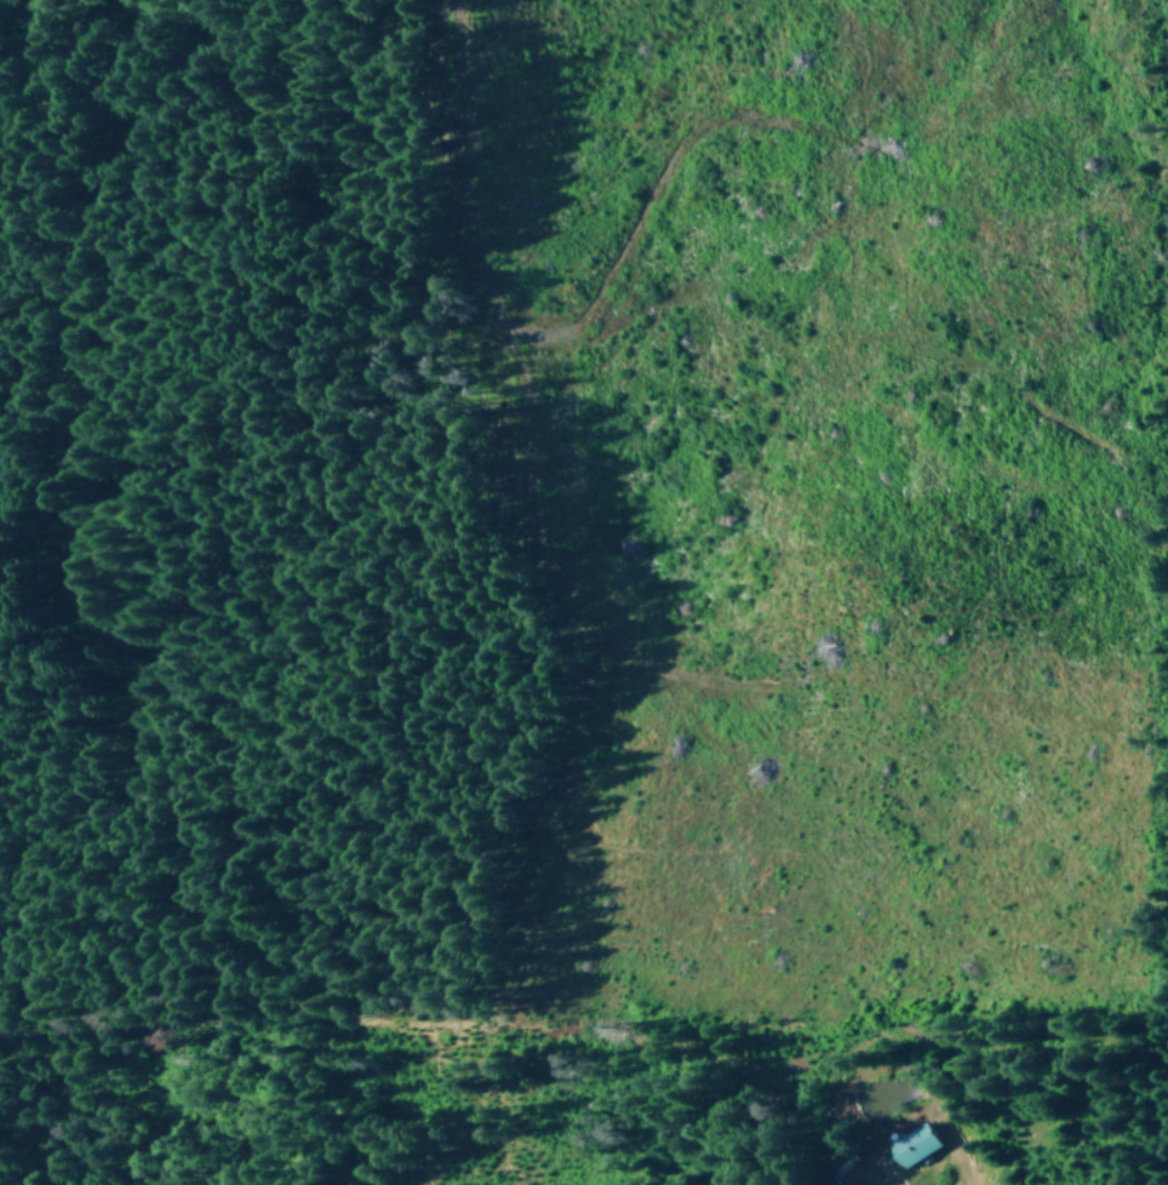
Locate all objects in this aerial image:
building: (910, 1144)

